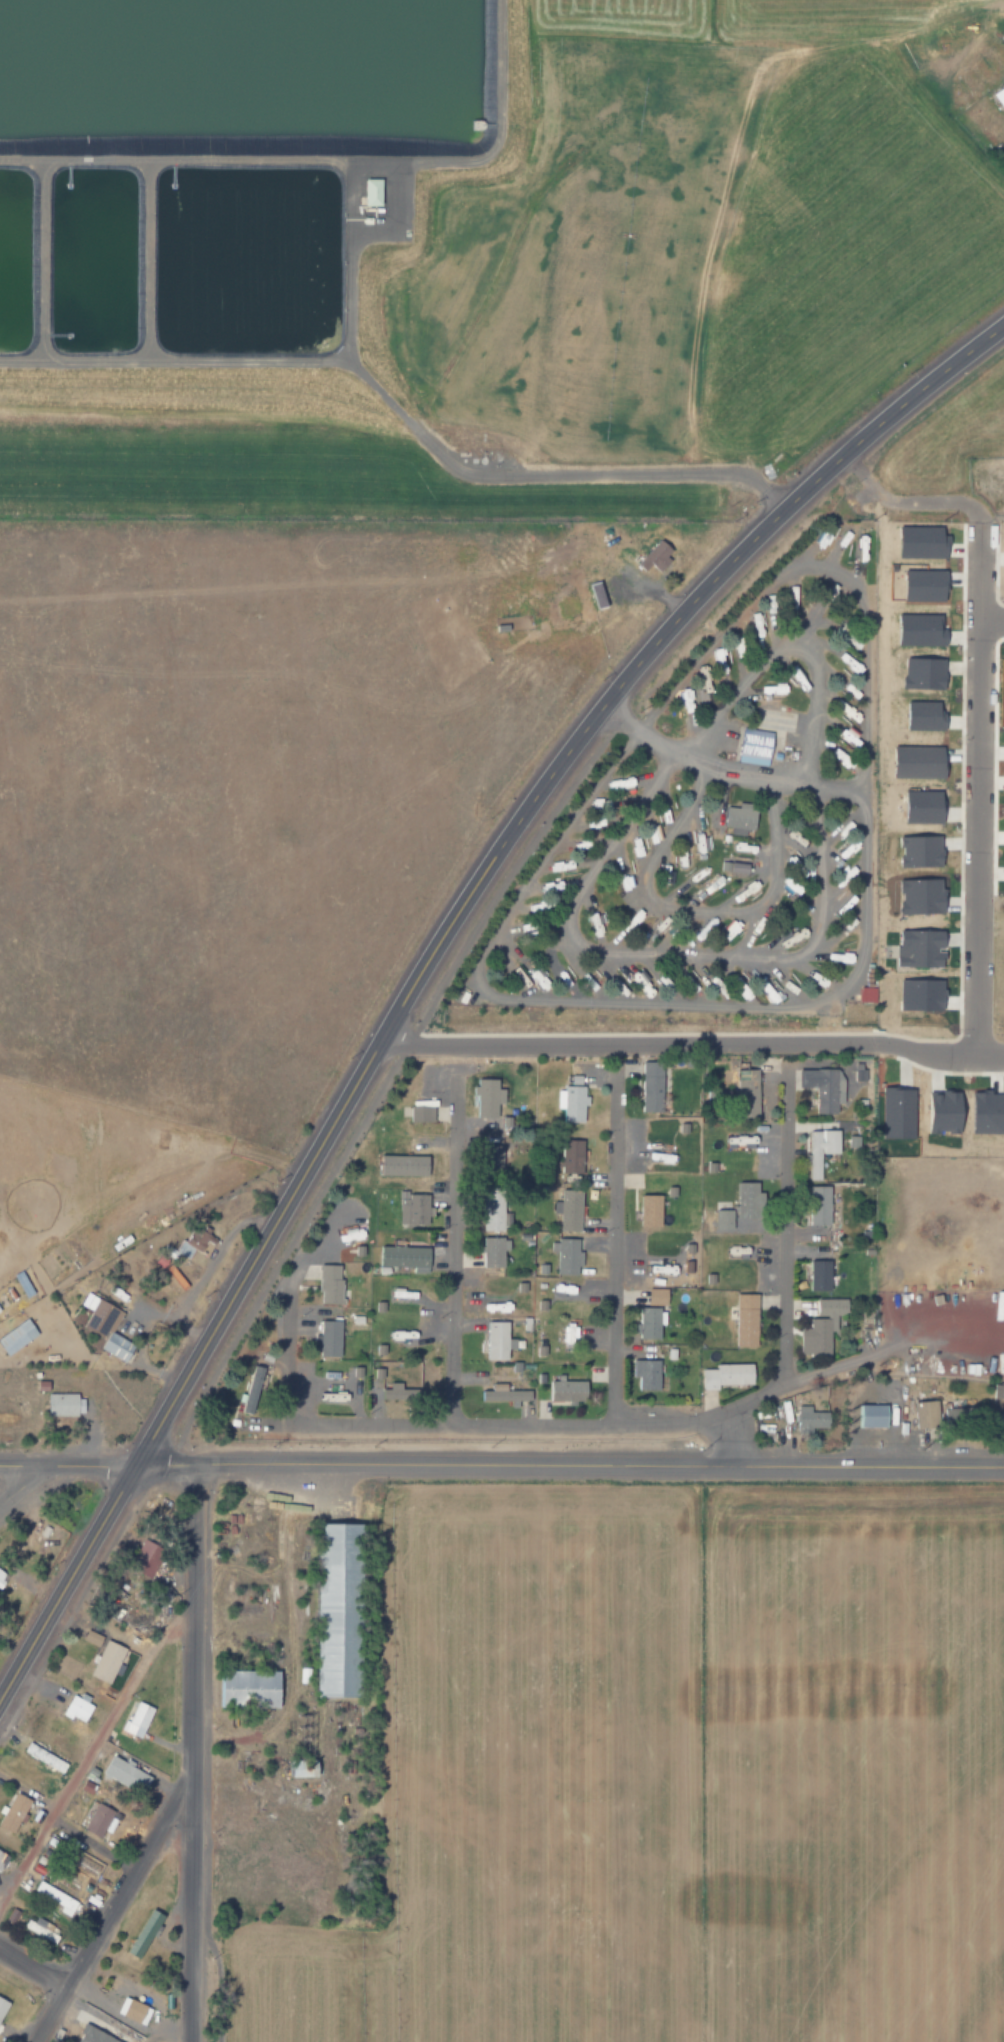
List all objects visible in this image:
building: (1001, 36)
building: (998, 96)
building: (378, 192)
crop: (593, 286)
road: (402, 417)
building: (915, 541)
building: (657, 554)
building: (918, 585)
building: (592, 595)
road: (993, 617)
building: (913, 624)
building: (1003, 677)
building: (684, 698)
building: (752, 746)
building: (836, 756)
building: (916, 770)
building: (617, 783)
road: (980, 796)
building: (917, 806)
building: (735, 819)
road: (508, 847)
building: (915, 851)
building: (682, 856)
building: (734, 868)
building: (914, 885)
building: (634, 920)
building: (593, 924)
building: (653, 932)
building: (662, 978)
building: (635, 979)
building: (714, 980)
building: (863, 994)
road: (692, 1046)
building: (857, 1074)
building: (652, 1086)
building: (819, 1088)
building: (746, 1097)
building: (487, 1098)
building: (574, 1098)
building: (938, 1111)
building: (981, 1112)
building: (893, 1113)
building: (421, 1114)
building: (819, 1150)
building: (405, 1165)
building: (749, 1201)
building: (819, 1206)
building: (413, 1209)
building: (565, 1209)
building: (493, 1210)
building: (723, 1220)
road: (783, 1228)
road: (601, 1234)
building: (198, 1242)
building: (493, 1251)
building: (563, 1255)
building: (402, 1258)
road: (451, 1261)
building: (818, 1276)
building: (24, 1283)
building: (331, 1284)
building: (826, 1308)
building: (650, 1316)
building: (746, 1321)
building: (108, 1328)
building: (566, 1331)
building: (18, 1337)
building: (819, 1337)
building: (330, 1339)
building: (497, 1341)
building: (647, 1375)
building: (727, 1375)
building: (252, 1390)
building: (568, 1390)
building: (402, 1394)
building: (507, 1394)
building: (62, 1404)
building: (927, 1414)
building: (865, 1416)
building: (960, 1416)
building: (805, 1419)
road: (589, 1423)
road: (731, 1439)
road: (501, 1464)
road: (20, 1483)
building: (147, 1554)
building: (2, 1570)
road: (66, 1585)
building: (341, 1609)
building: (94, 1637)
building: (109, 1659)
building: (250, 1689)
building: (76, 1709)
building: (137, 1719)
road: (93, 1735)
road: (192, 1753)
building: (44, 1758)
building: (303, 1768)
crop: (668, 1774)
building: (127, 1776)
building: (13, 1813)
building: (100, 1818)
building: (2, 1860)
building: (53, 1897)
road: (110, 1907)
building: (39, 1929)
building: (147, 1934)
road: (31, 1966)
building: (135, 1998)
building: (3, 2006)
road: (166, 2030)
building: (98, 2035)

